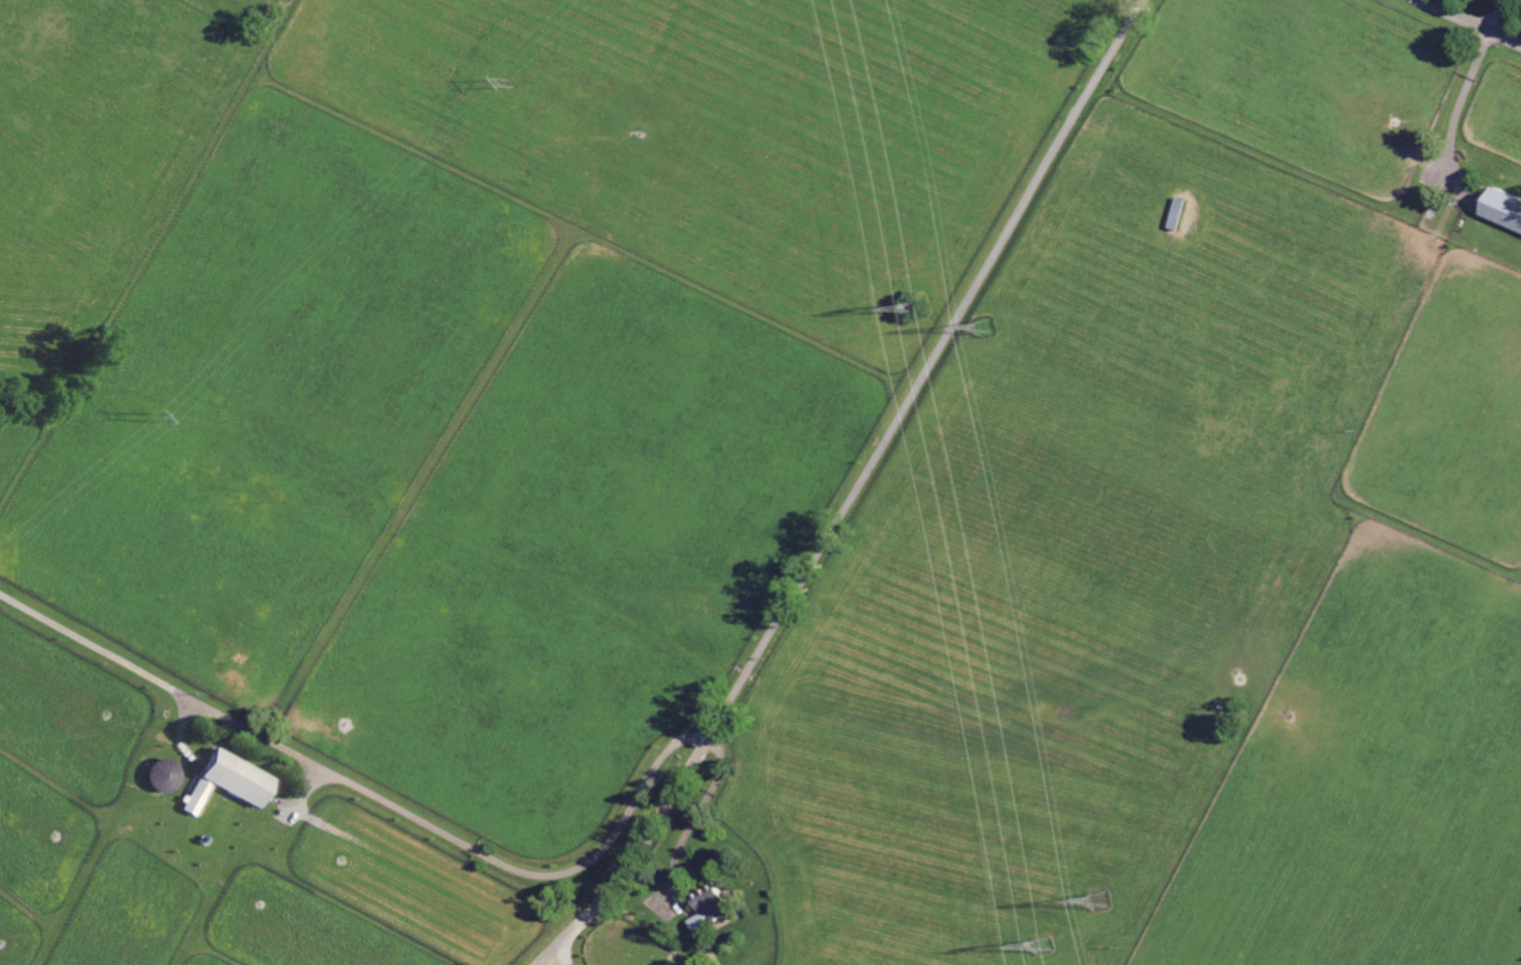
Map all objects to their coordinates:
road: (1498, 15)
road: (1472, 22)
power tower: (509, 83)
road: (1457, 111)
building: (1500, 209)
power tower: (918, 311)
power tower: (988, 327)
power tower: (146, 419)
road: (855, 493)
road: (167, 685)
building: (233, 780)
road: (516, 870)
power tower: (1102, 899)
building: (713, 905)
road: (554, 958)
power tower: (1049, 958)

